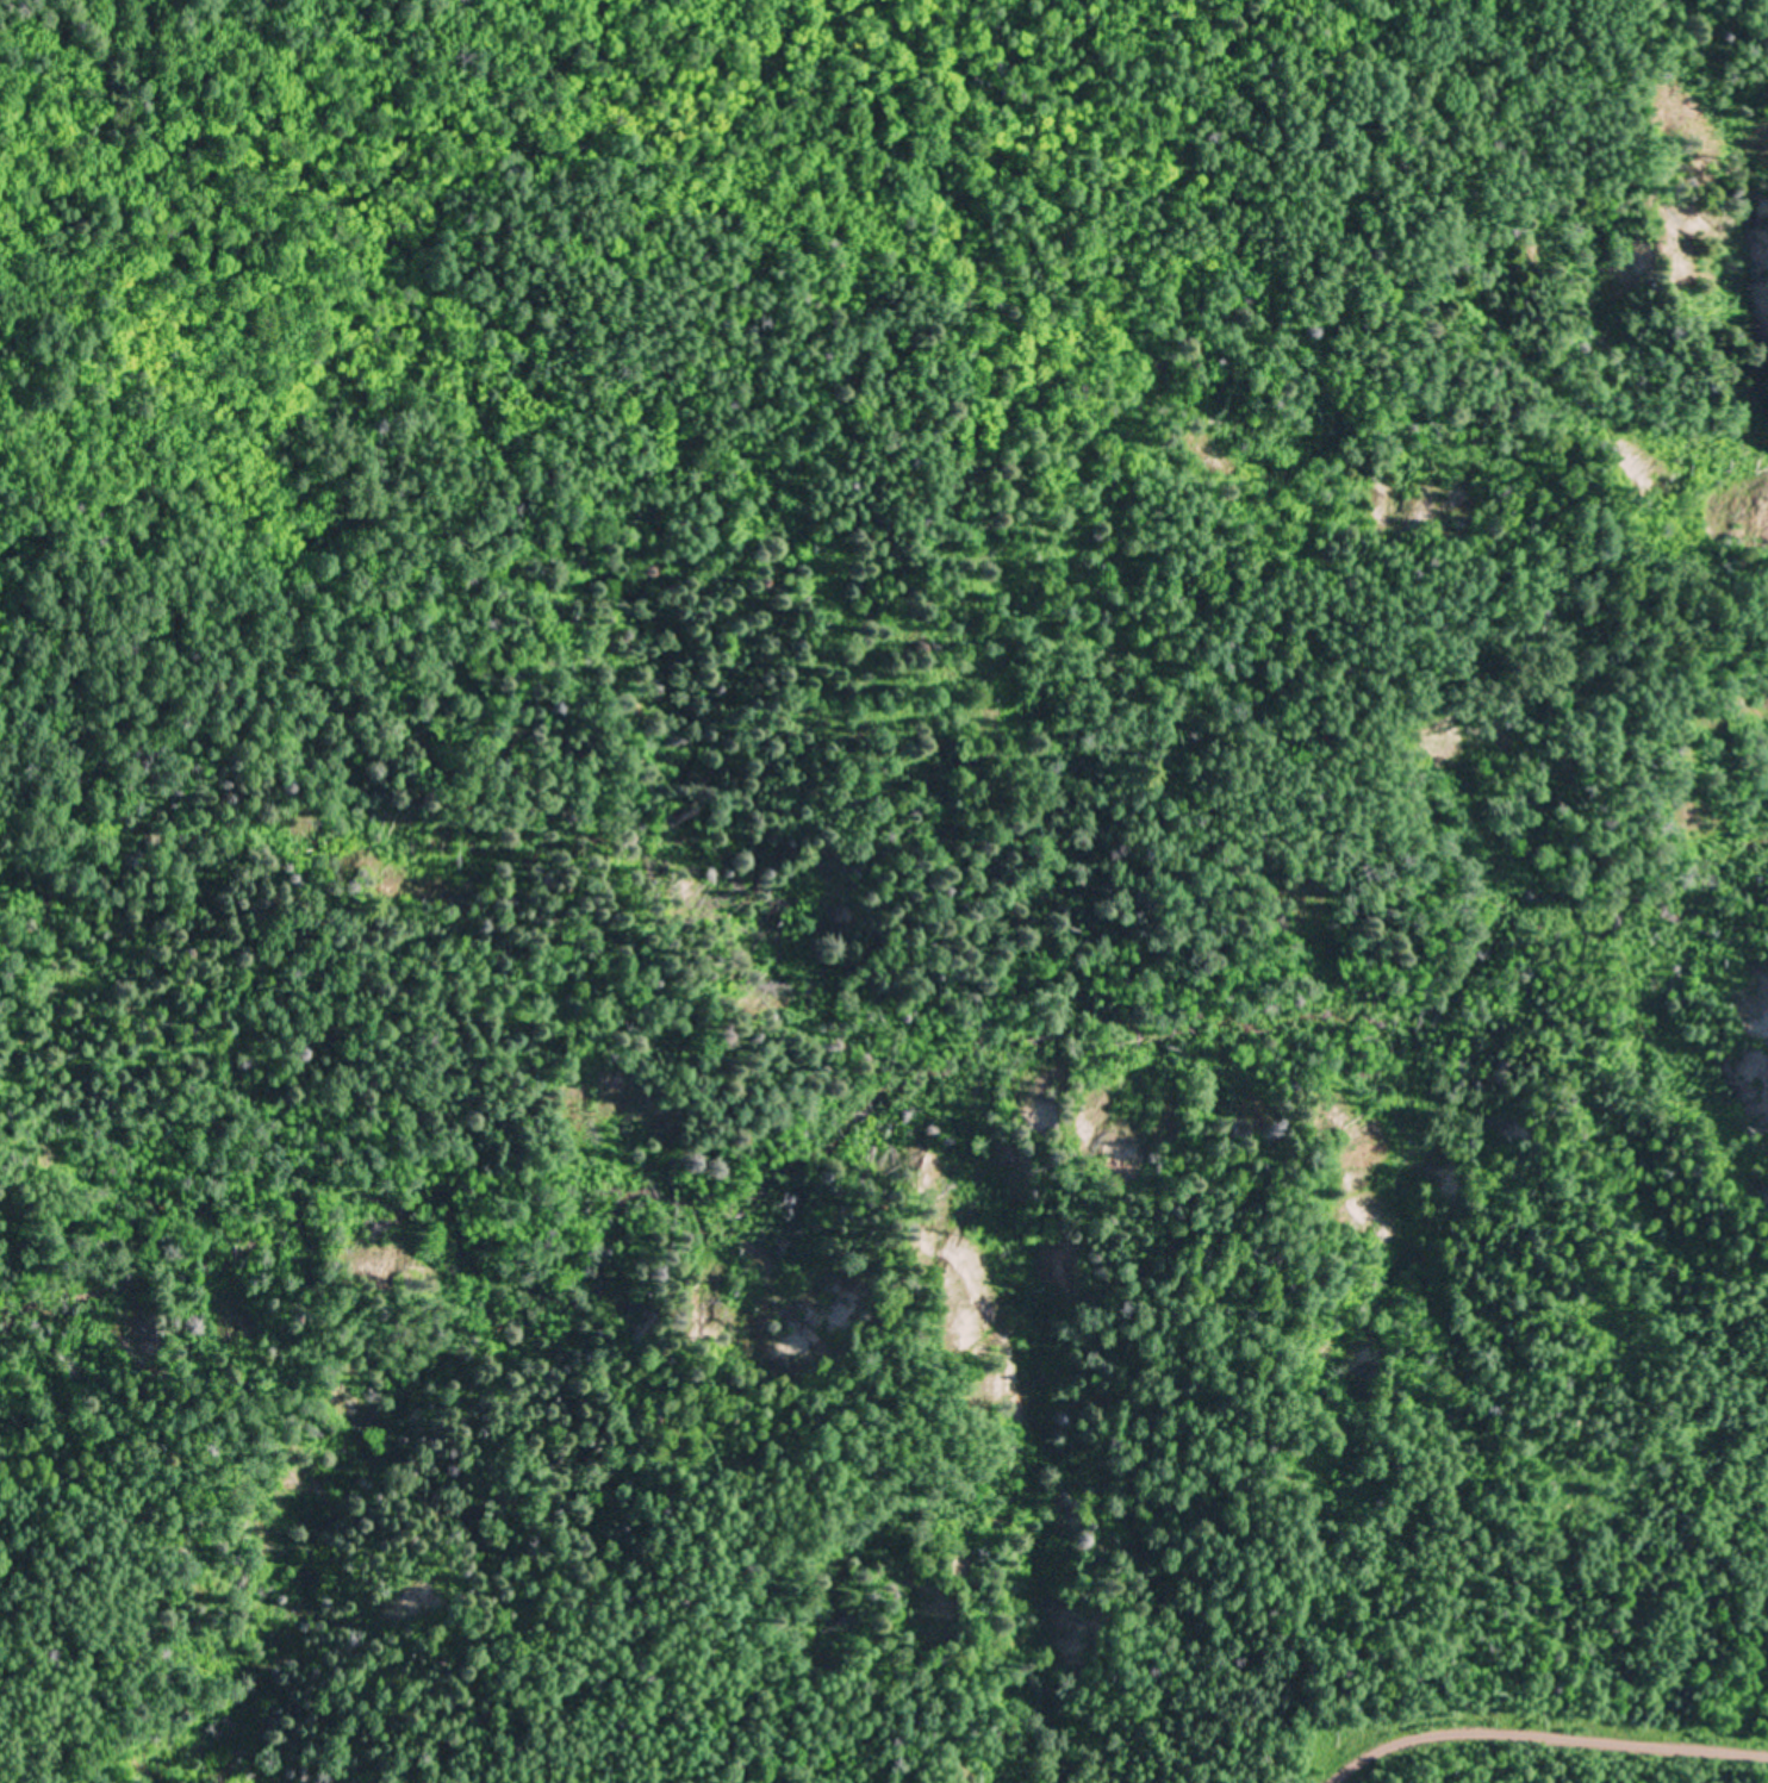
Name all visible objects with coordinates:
road: (1552, 1738)

